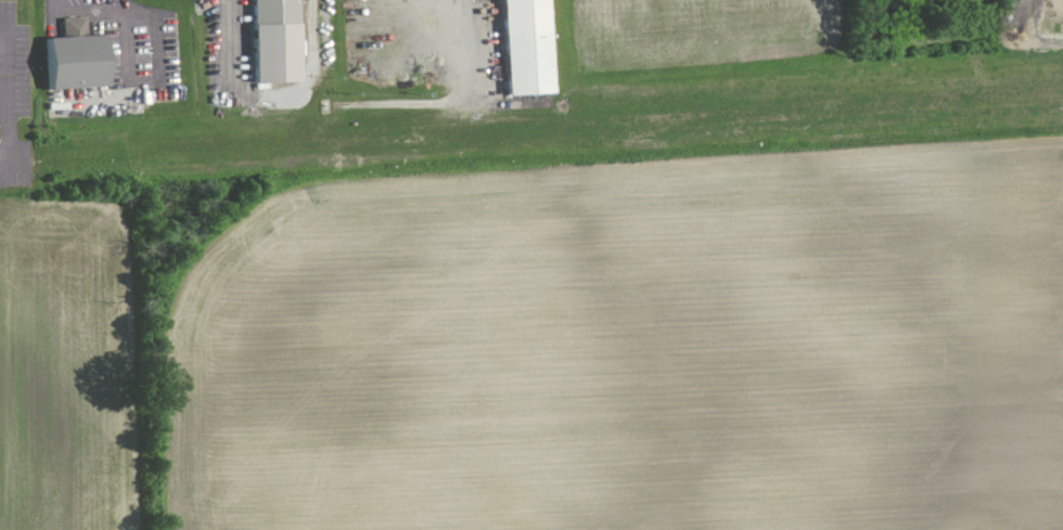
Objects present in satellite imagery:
road: (136, 13)
road: (462, 28)
building: (272, 41)
building: (533, 47)
building: (80, 57)
road: (10, 89)
road: (7, 163)

